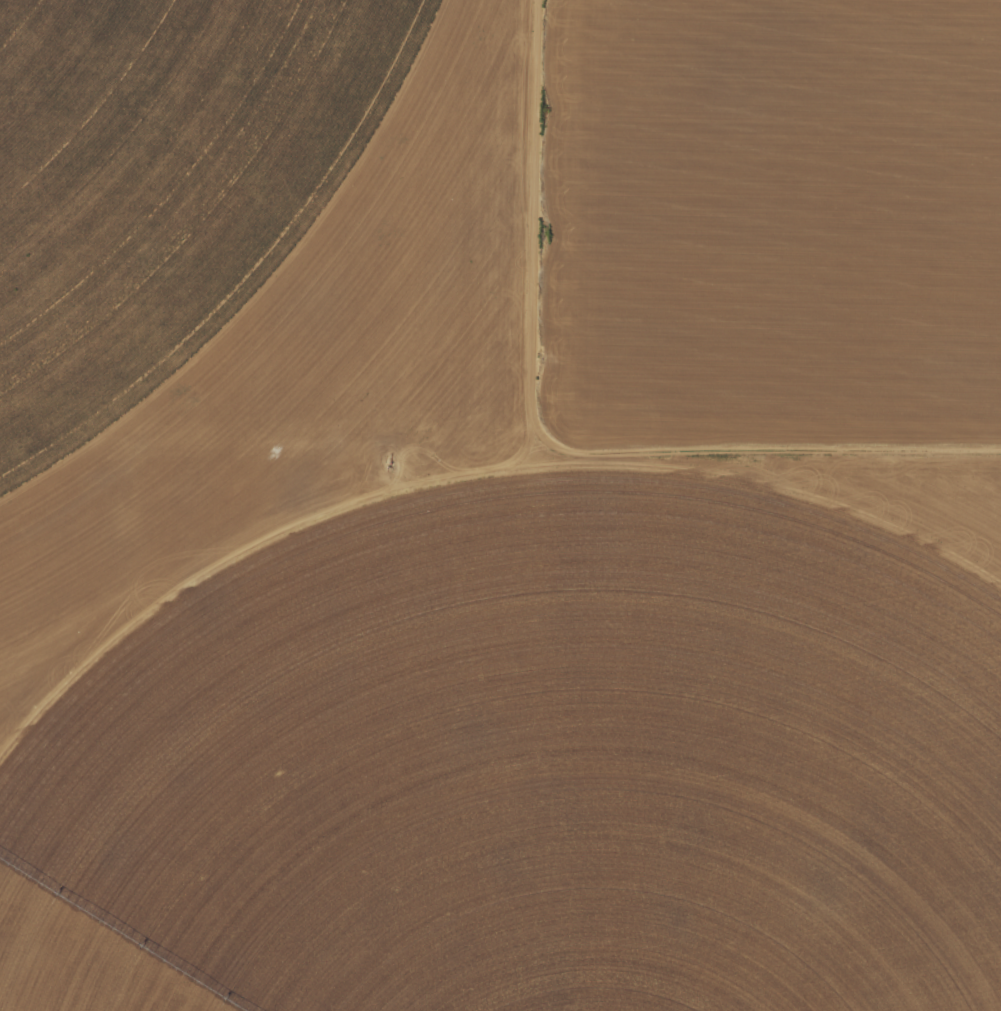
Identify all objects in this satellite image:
road: (545, 447)

